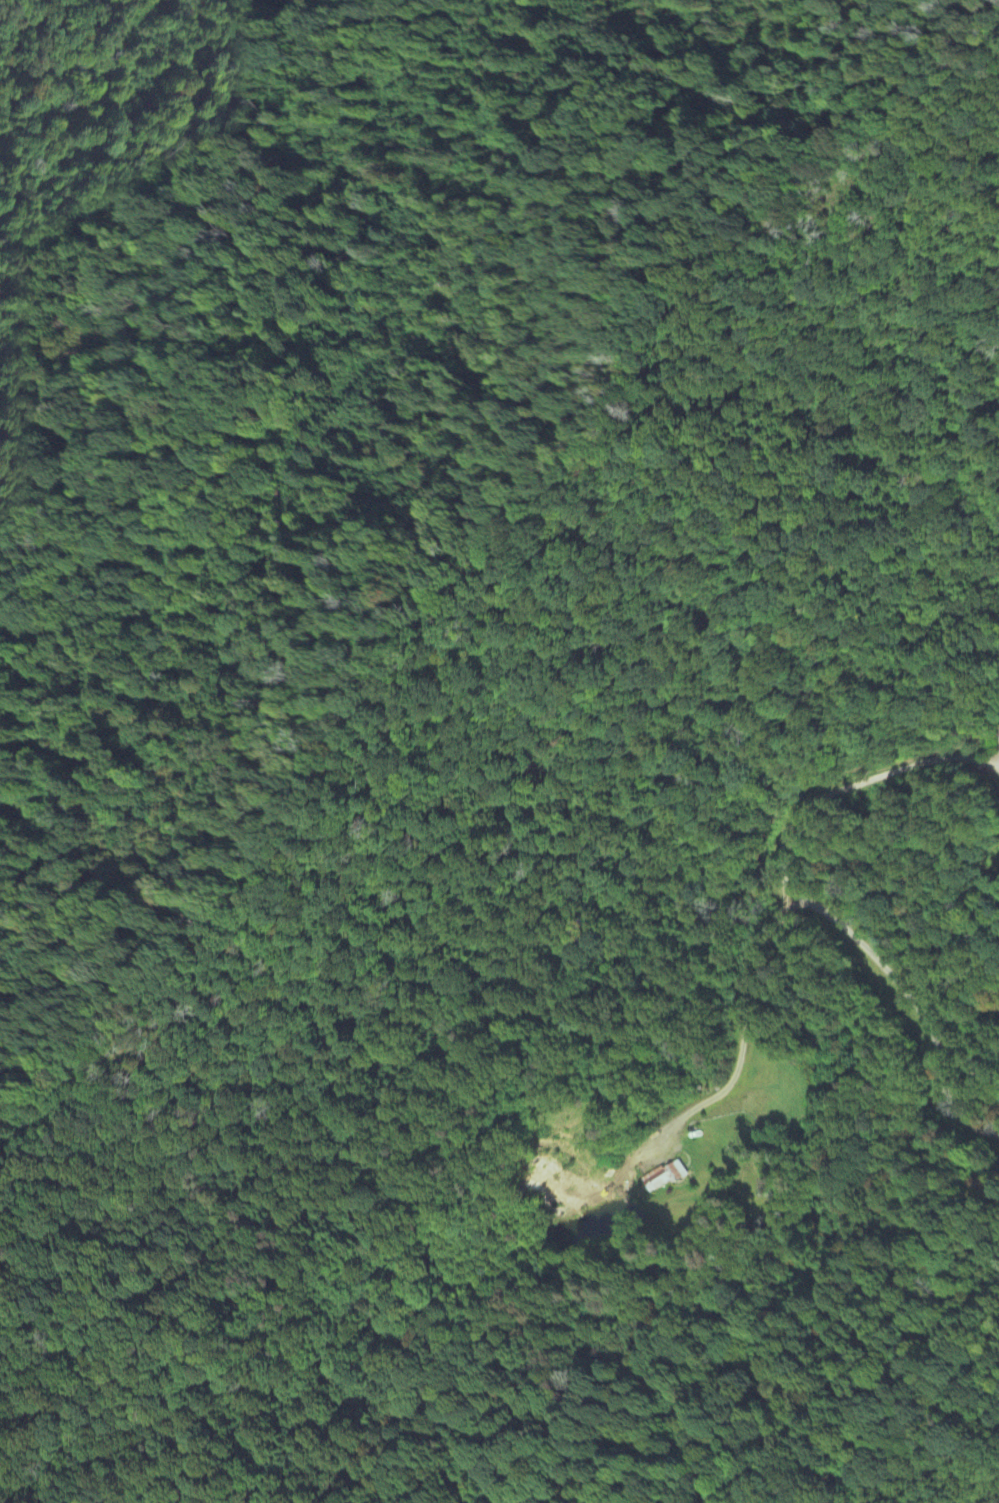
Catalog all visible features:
road: (850, 784)
road: (913, 1005)
road: (742, 1032)
building: (664, 1176)

